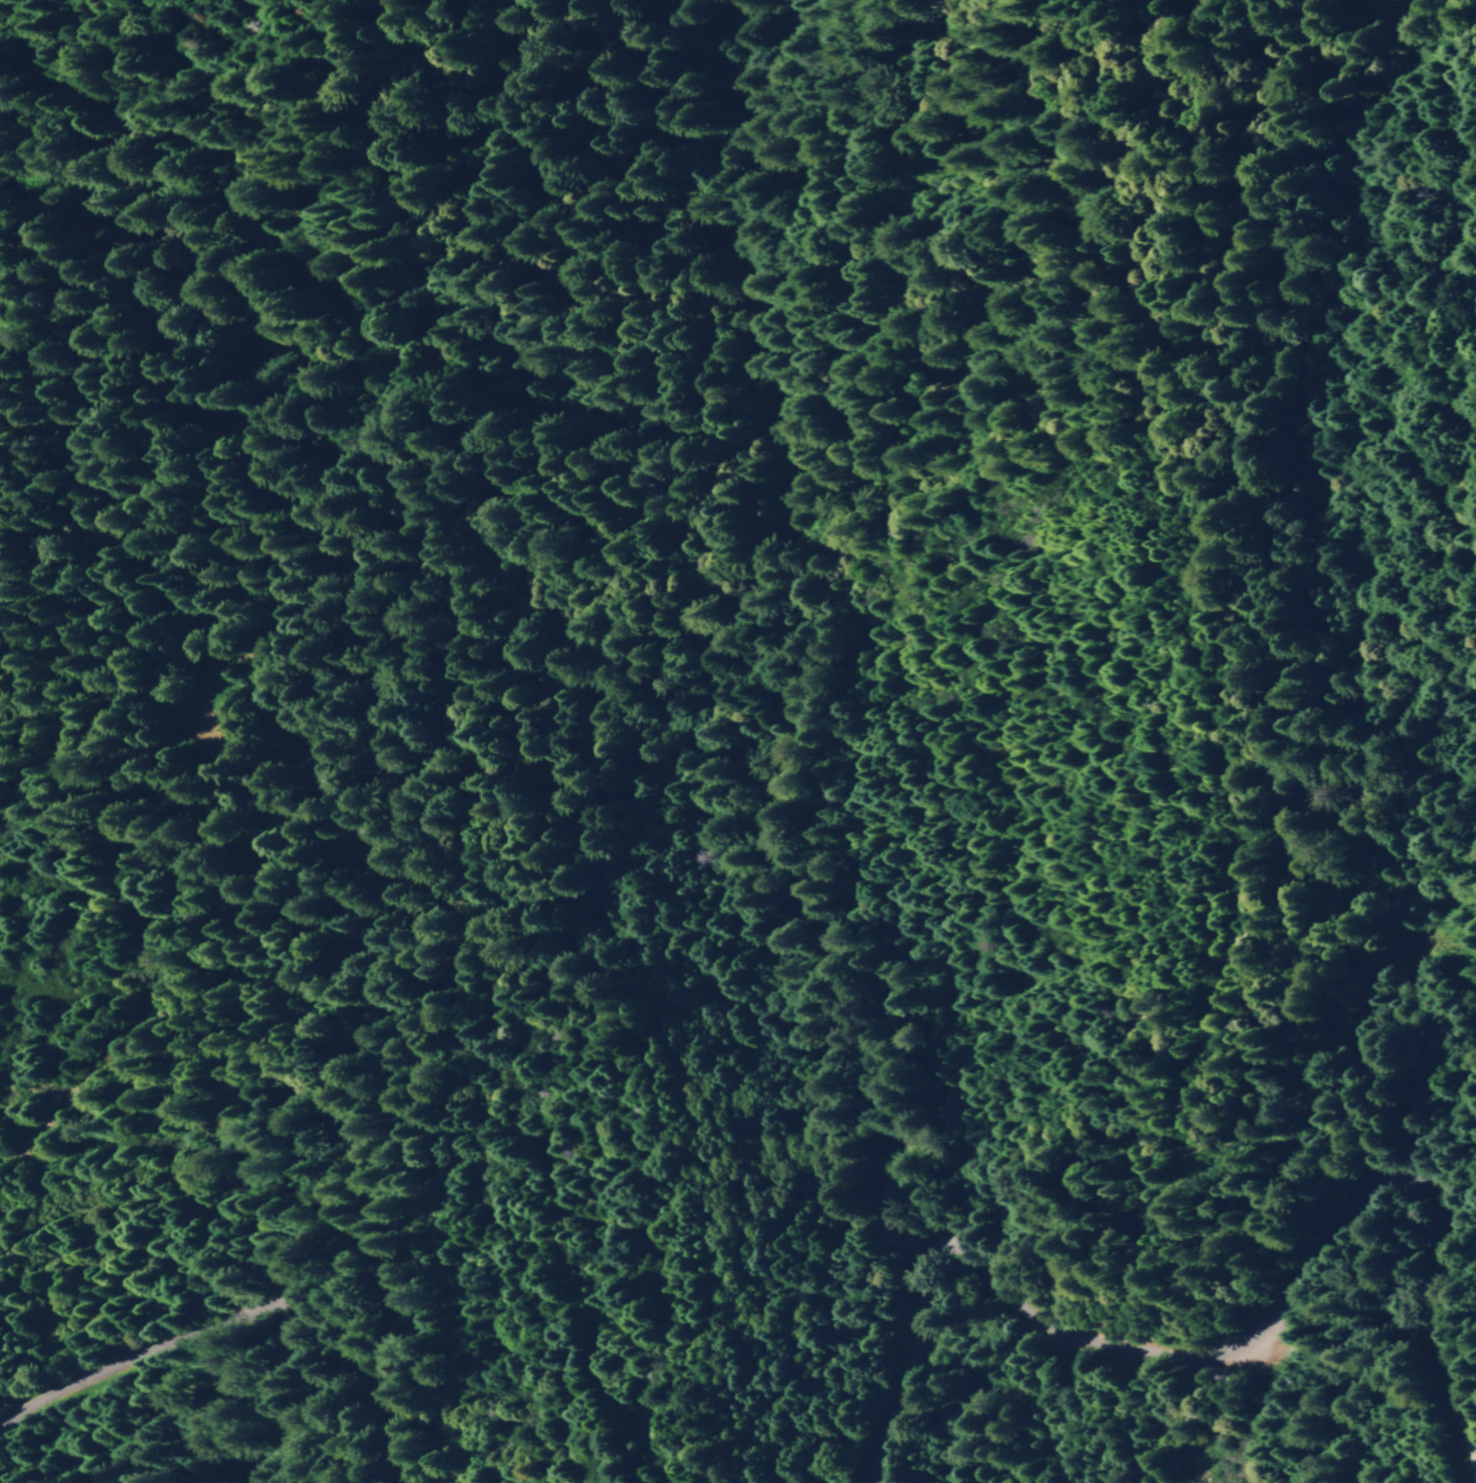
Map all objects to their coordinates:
road: (248, 1319)
road: (1221, 1364)

